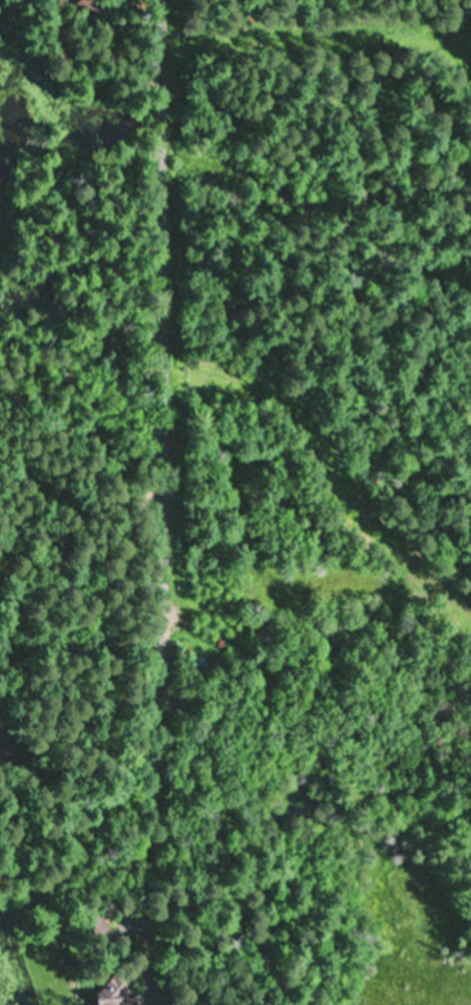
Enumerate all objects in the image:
building: (88, 8)
road: (162, 385)
road: (157, 704)
building: (0, 729)
building: (115, 990)

